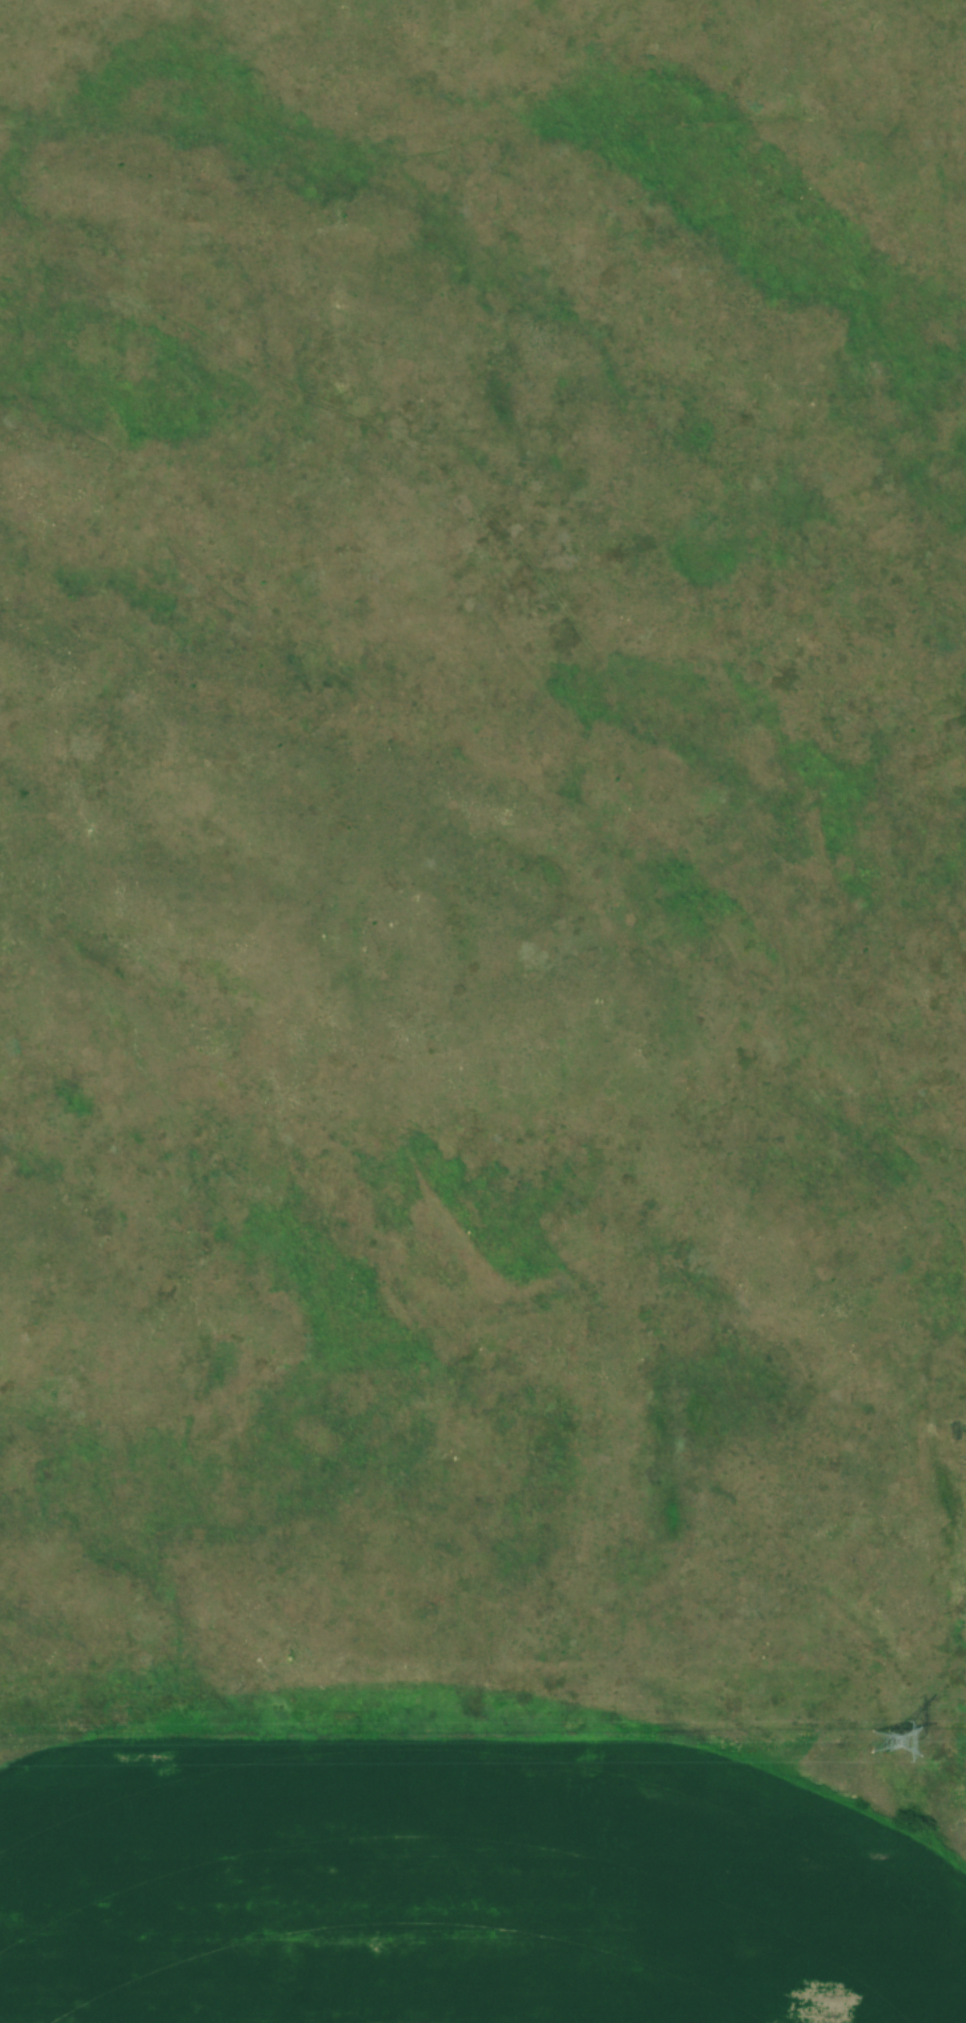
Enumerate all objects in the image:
power tower: (881, 1741)

